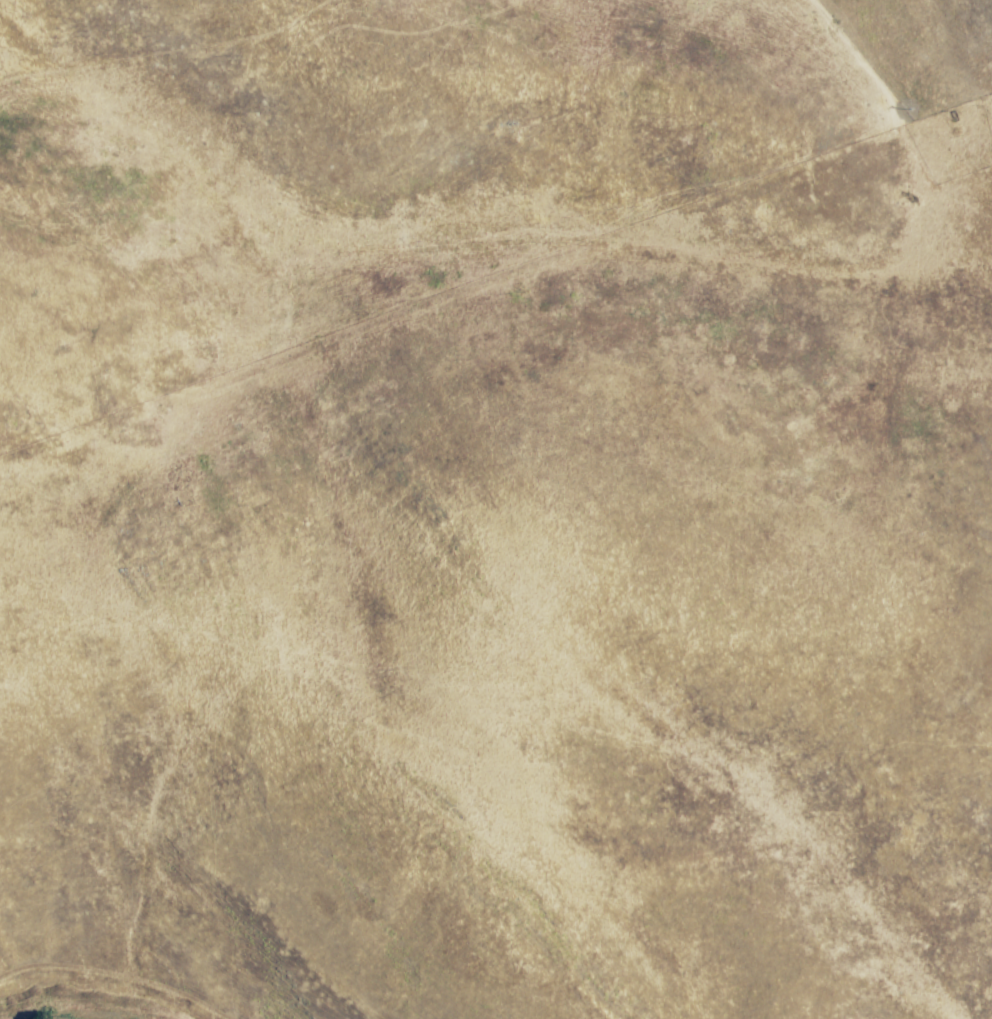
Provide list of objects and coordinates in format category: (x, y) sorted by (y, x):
road: (114, 979)

